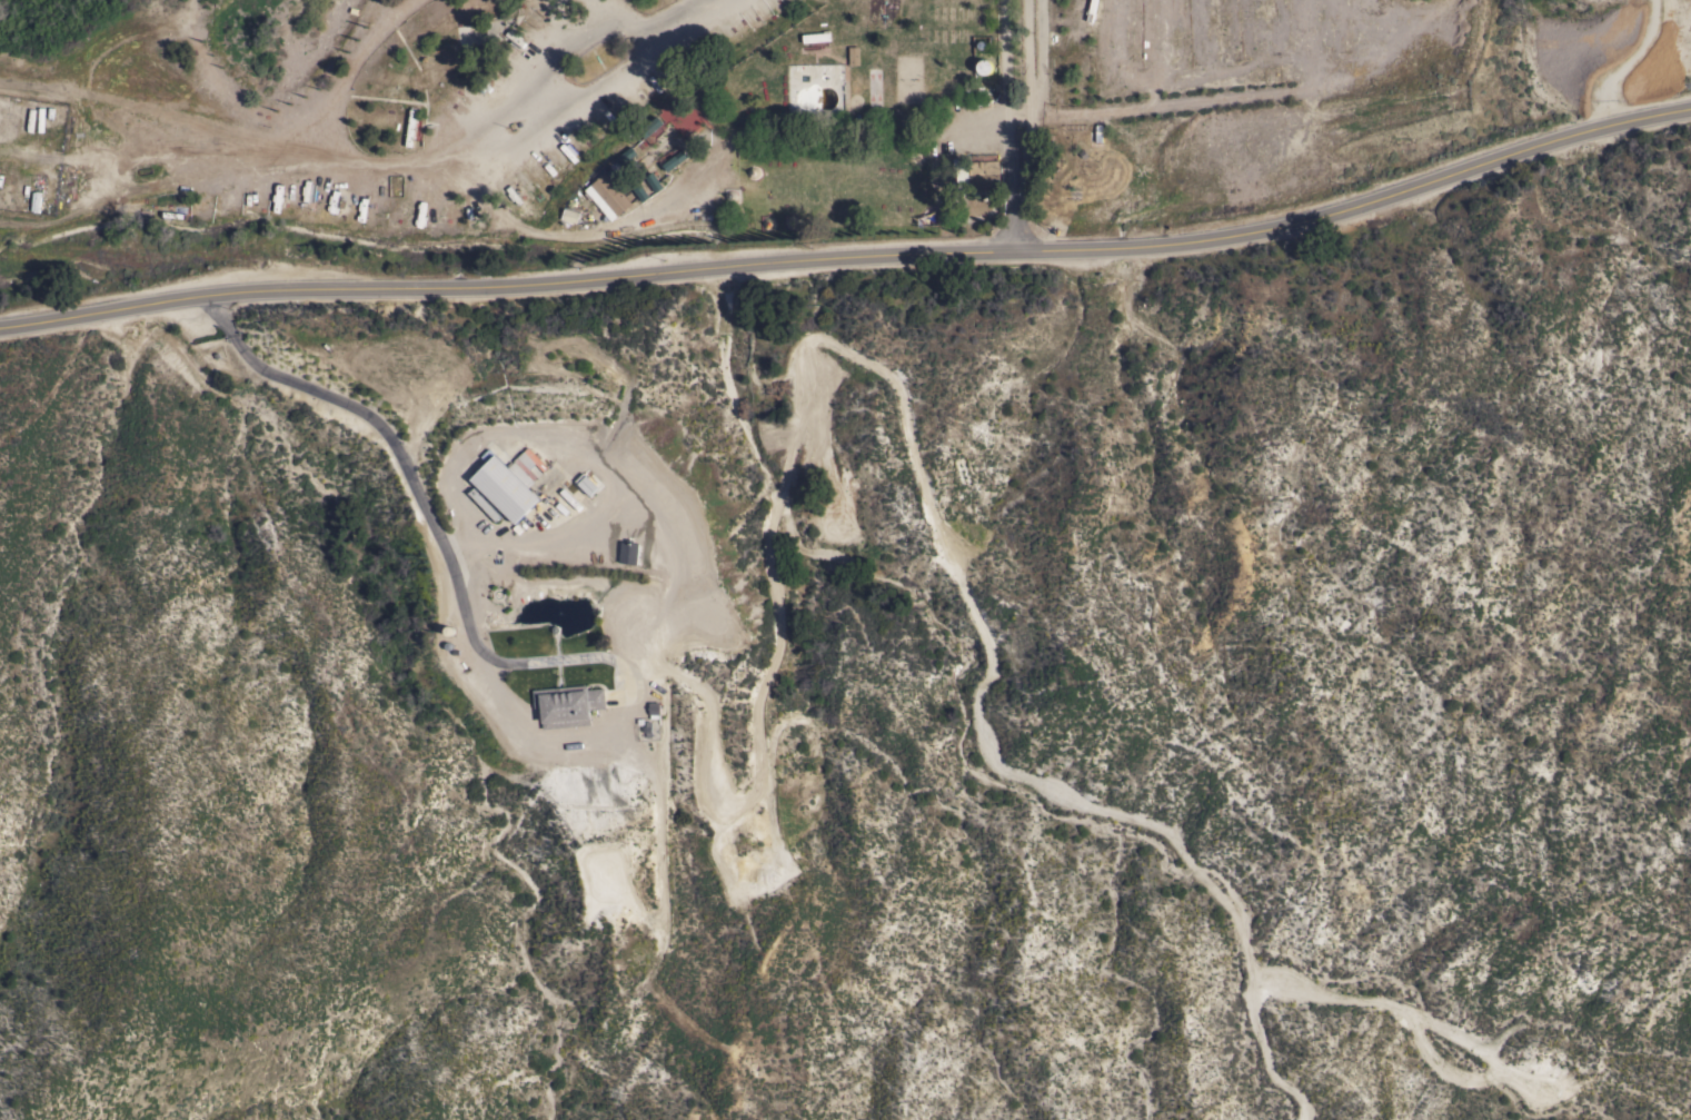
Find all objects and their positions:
road: (680, 11)
road: (604, 14)
building: (816, 36)
building: (853, 54)
road: (1629, 63)
road: (538, 65)
building: (984, 65)
road: (348, 71)
road: (228, 88)
building: (684, 120)
road: (987, 122)
road: (1015, 125)
building: (410, 126)
building: (666, 142)
road: (520, 145)
building: (620, 146)
building: (976, 174)
building: (621, 176)
building: (608, 196)
building: (569, 216)
road: (559, 237)
road: (853, 256)
road: (404, 469)
building: (514, 475)
building: (484, 502)
building: (839, 518)
building: (628, 552)
building: (567, 704)

